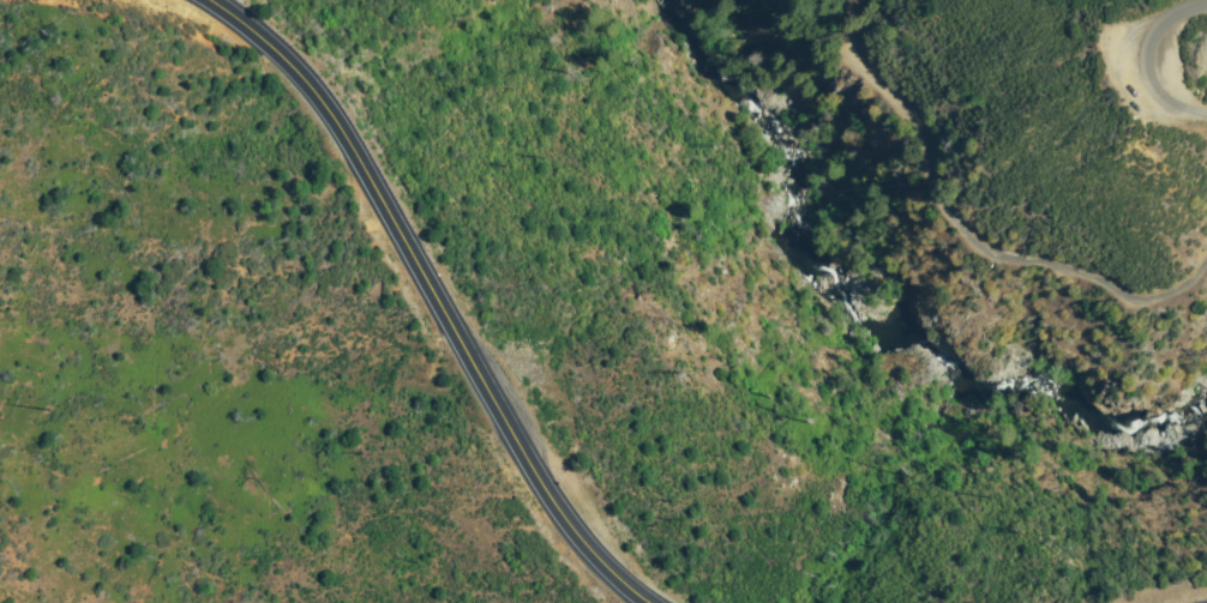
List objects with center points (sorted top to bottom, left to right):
road: (253, 20)
road: (1158, 65)
road: (967, 237)
road: (439, 289)
river: (837, 364)

